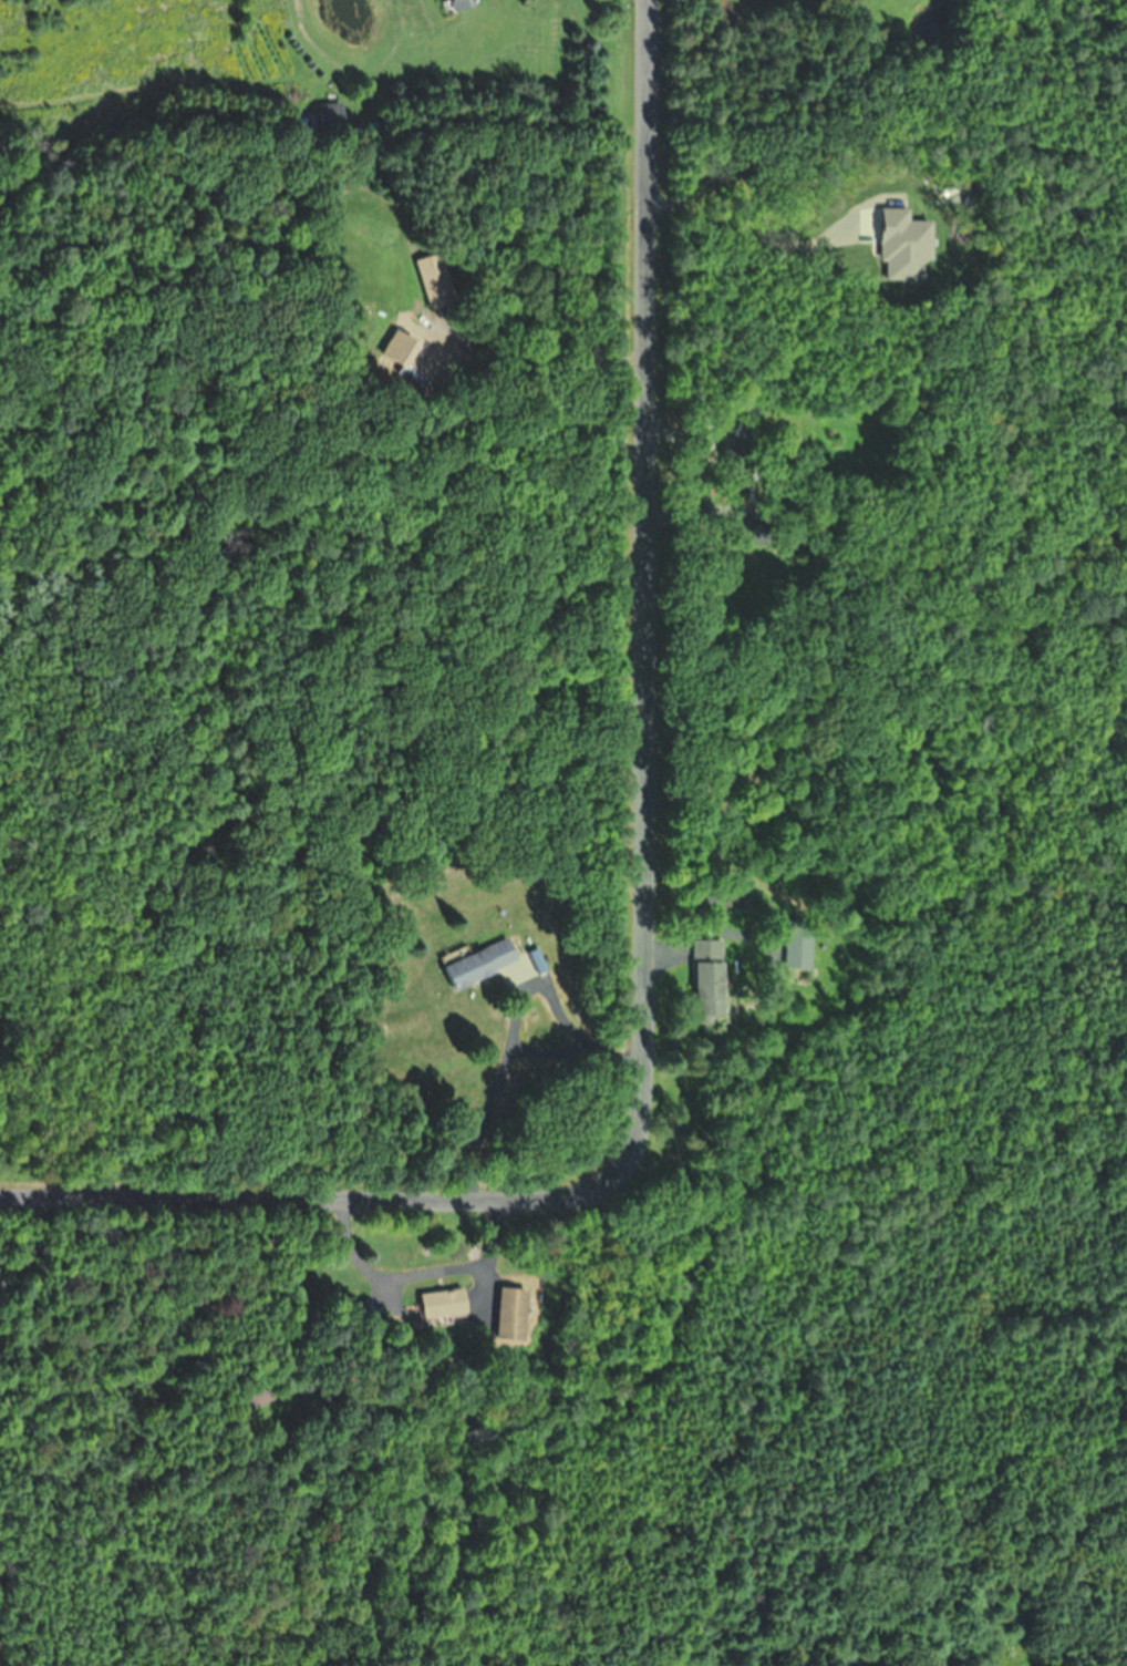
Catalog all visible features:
building: (465, 4)
building: (331, 115)
building: (435, 280)
building: (396, 347)
road: (638, 904)
building: (798, 950)
building: (484, 964)
building: (710, 978)
building: (446, 1304)
building: (514, 1315)

